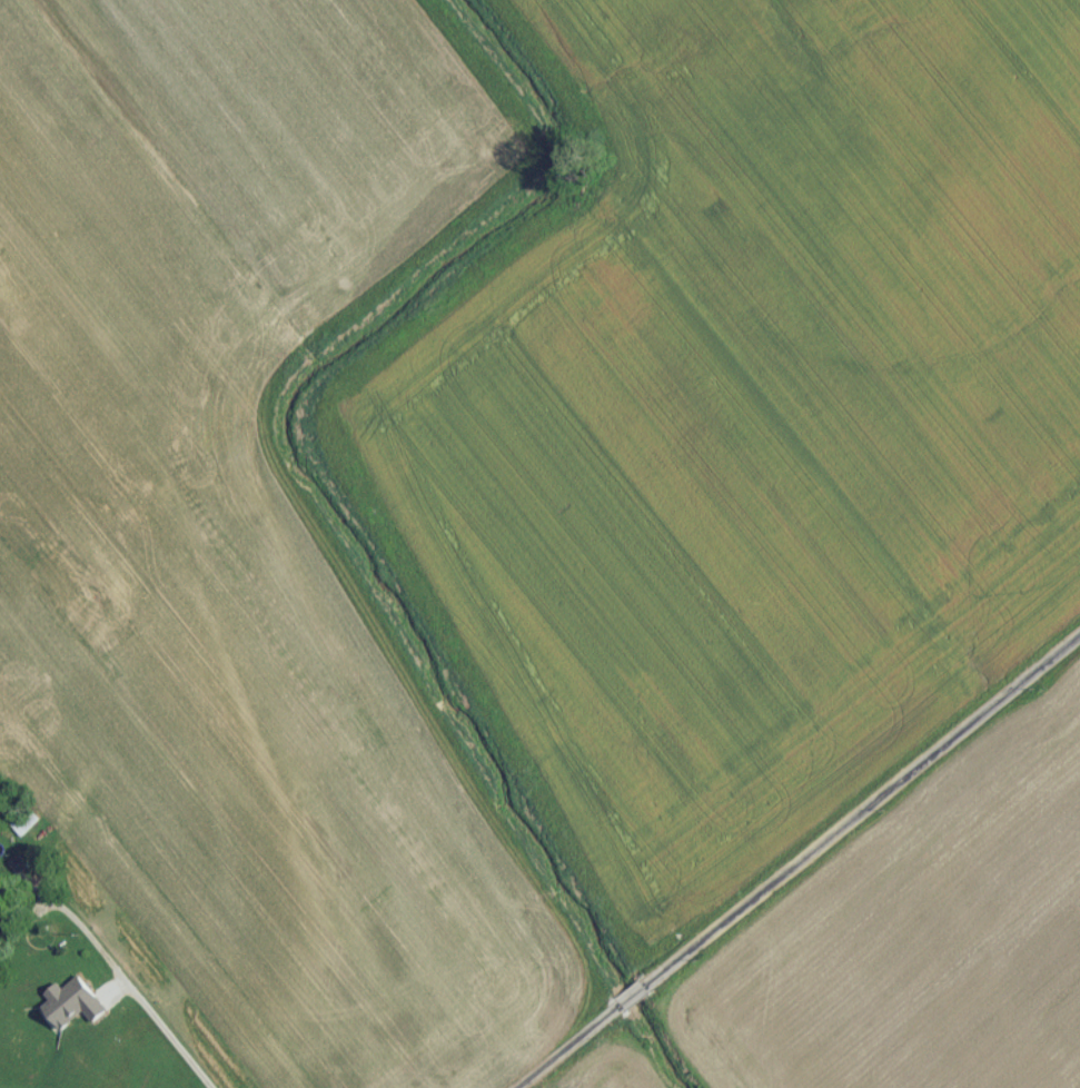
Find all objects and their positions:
building: (22, 830)
road: (793, 855)
road: (10, 894)
road: (131, 987)
road: (106, 1054)

